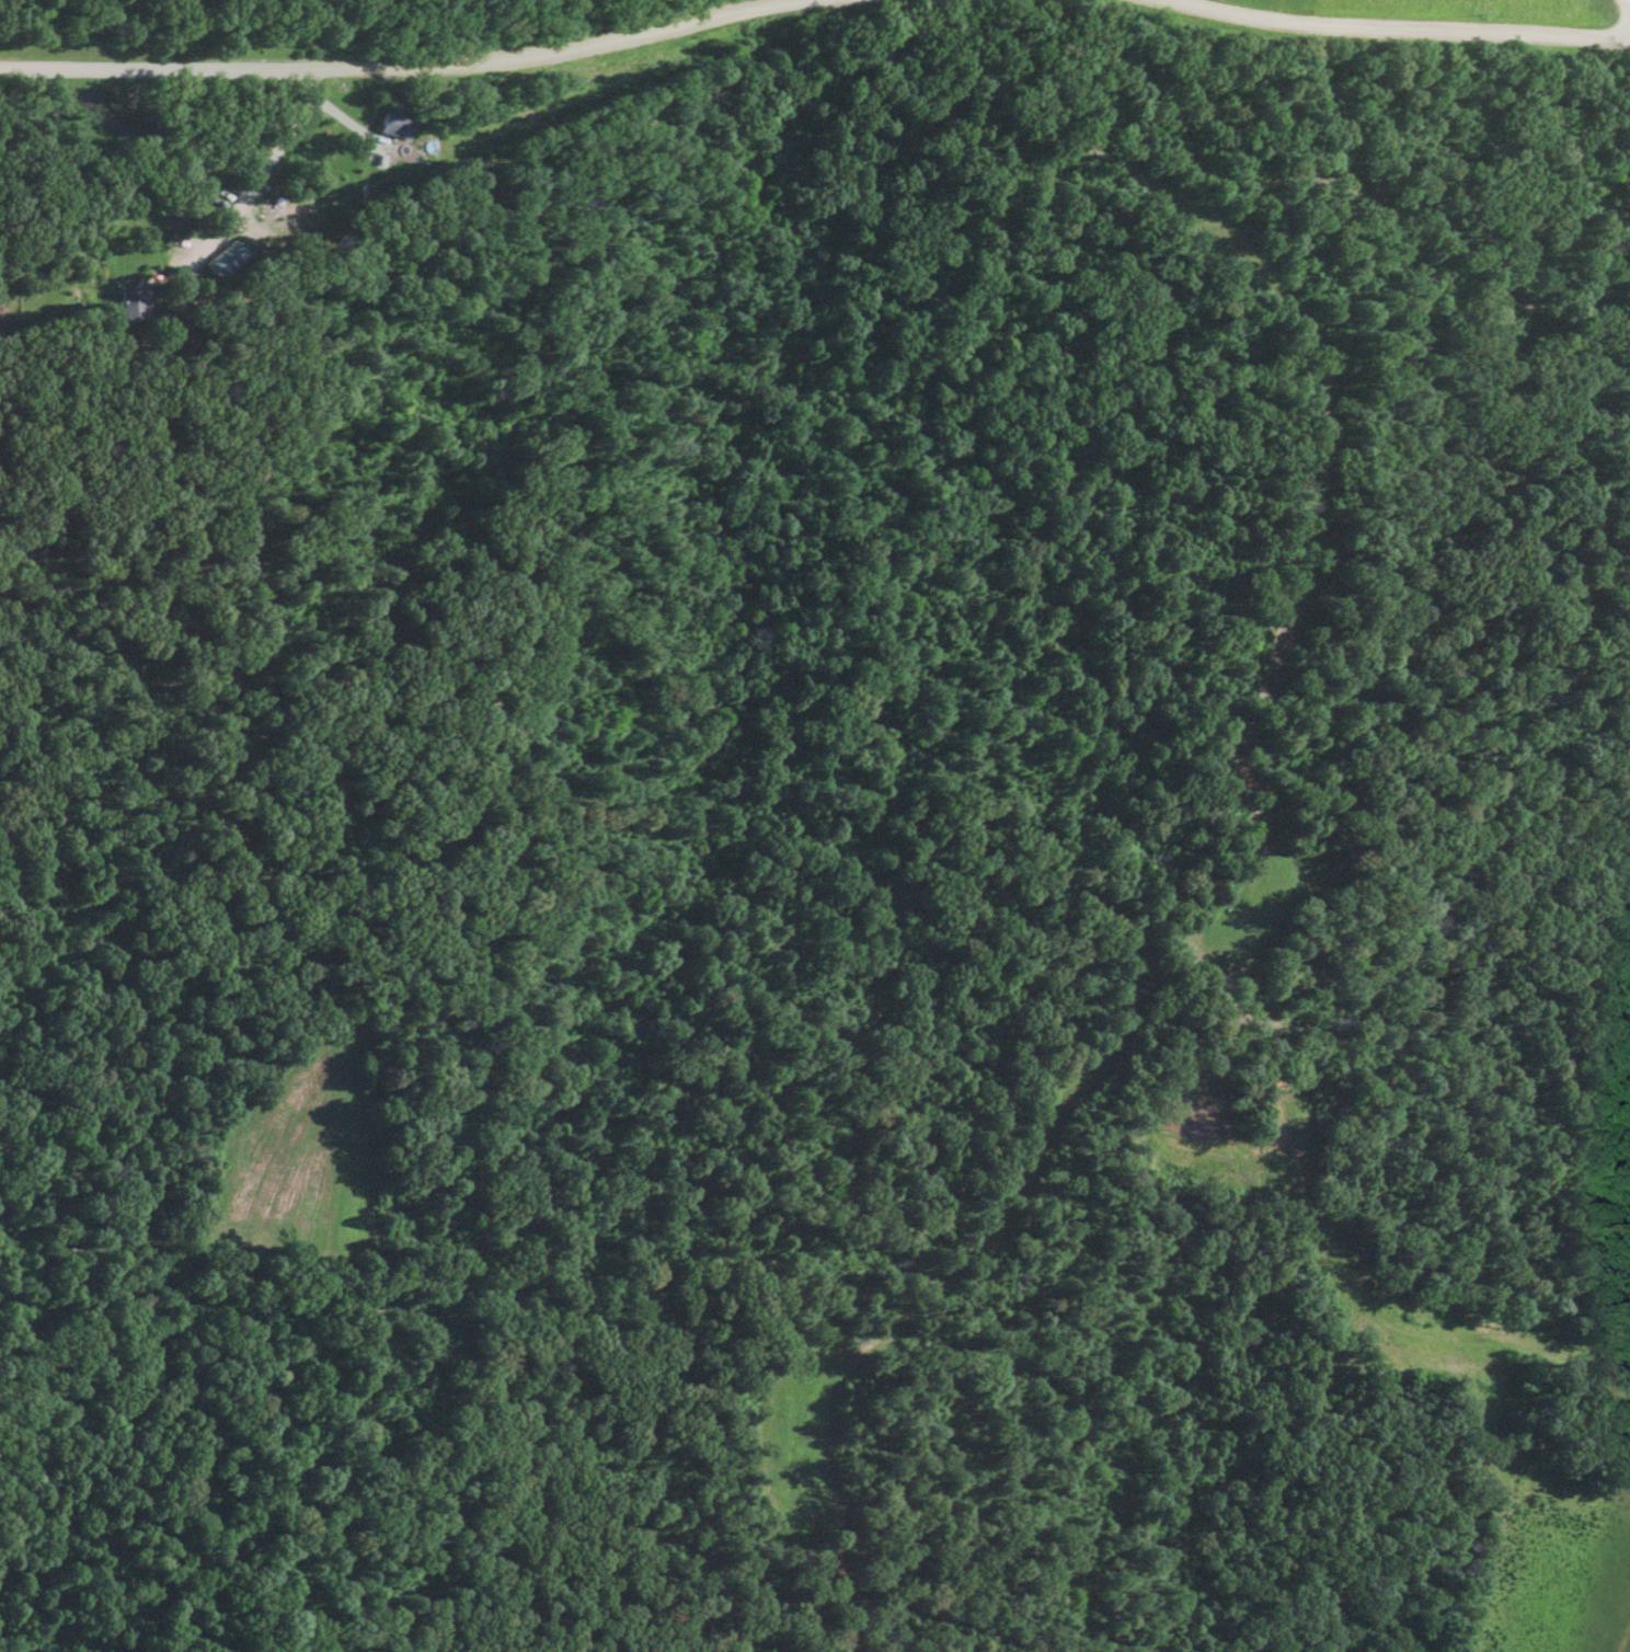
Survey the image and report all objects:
road: (1629, 0)
road: (1389, 22)
road: (204, 30)
road: (454, 54)
building: (391, 124)
road: (271, 136)
road: (259, 193)
building: (223, 259)
building: (133, 300)

